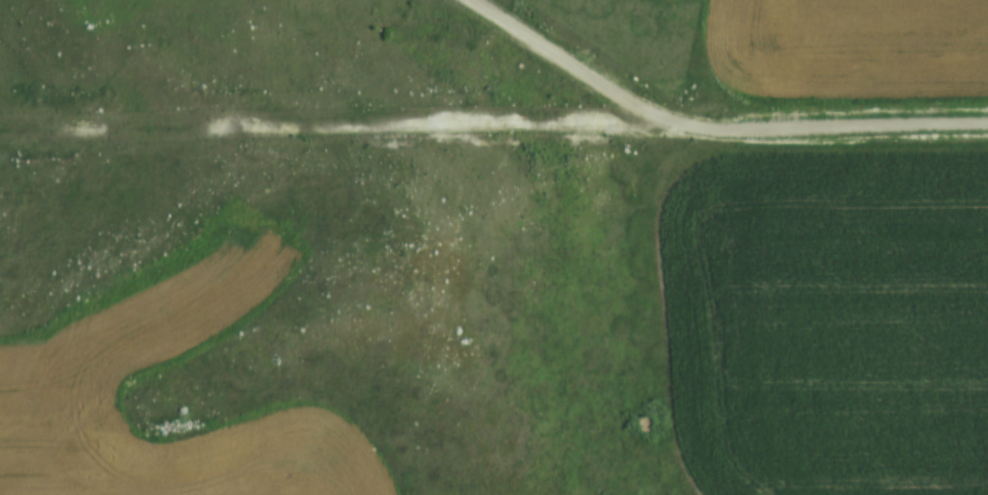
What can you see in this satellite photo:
road: (711, 127)
road: (345, 135)

